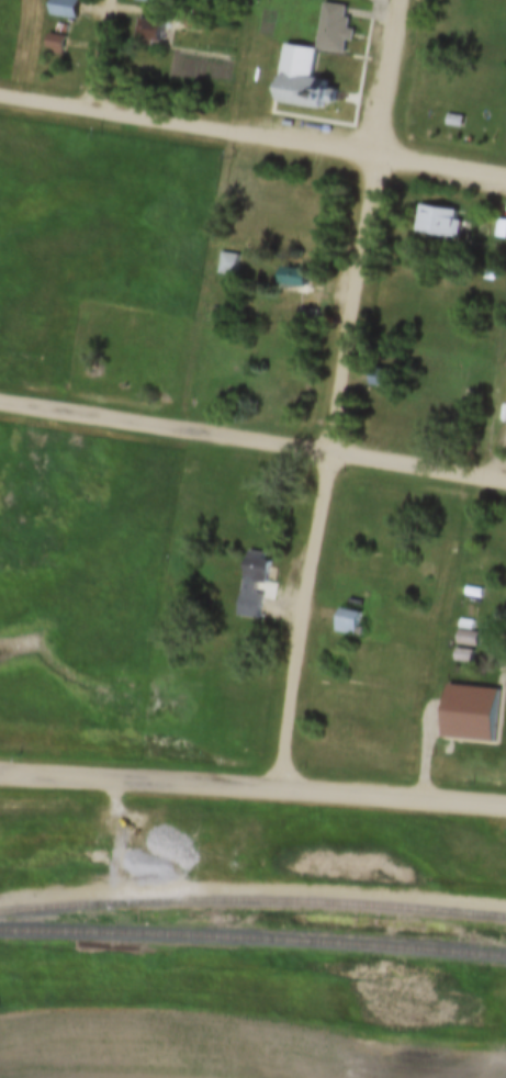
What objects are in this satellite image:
building: (147, 0)
building: (66, 9)
building: (63, 29)
building: (334, 29)
building: (150, 33)
building: (56, 43)
road: (105, 55)
road: (393, 78)
building: (302, 80)
building: (454, 122)
road: (252, 135)
building: (437, 222)
building: (501, 229)
building: (224, 254)
building: (295, 280)
building: (490, 295)
building: (307, 318)
building: (381, 378)
road: (252, 443)
road: (331, 473)
building: (252, 570)
building: (475, 592)
building: (349, 622)
building: (468, 624)
building: (252, 627)
building: (468, 639)
building: (464, 655)
building: (468, 708)
road: (252, 788)
railway: (252, 897)
railway: (252, 939)

